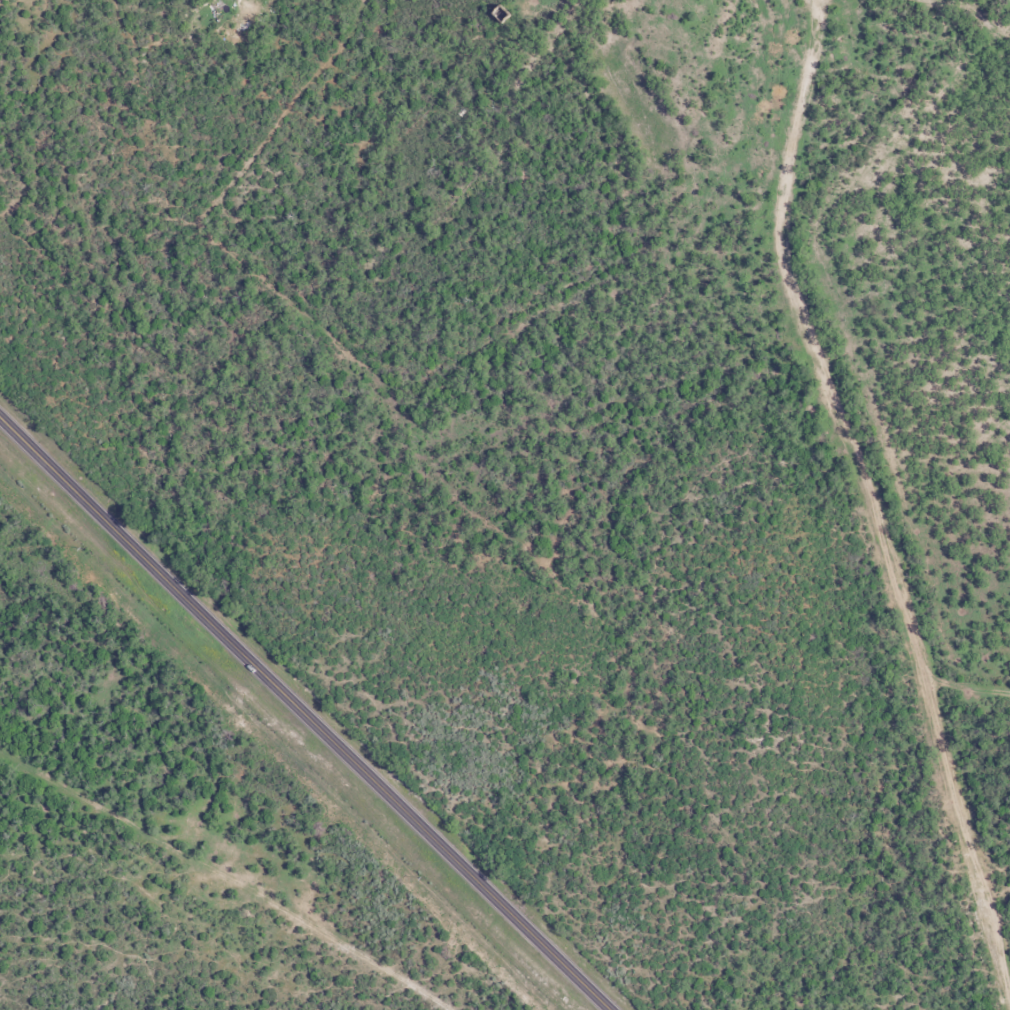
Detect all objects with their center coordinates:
road: (839, 502)
road: (304, 715)

